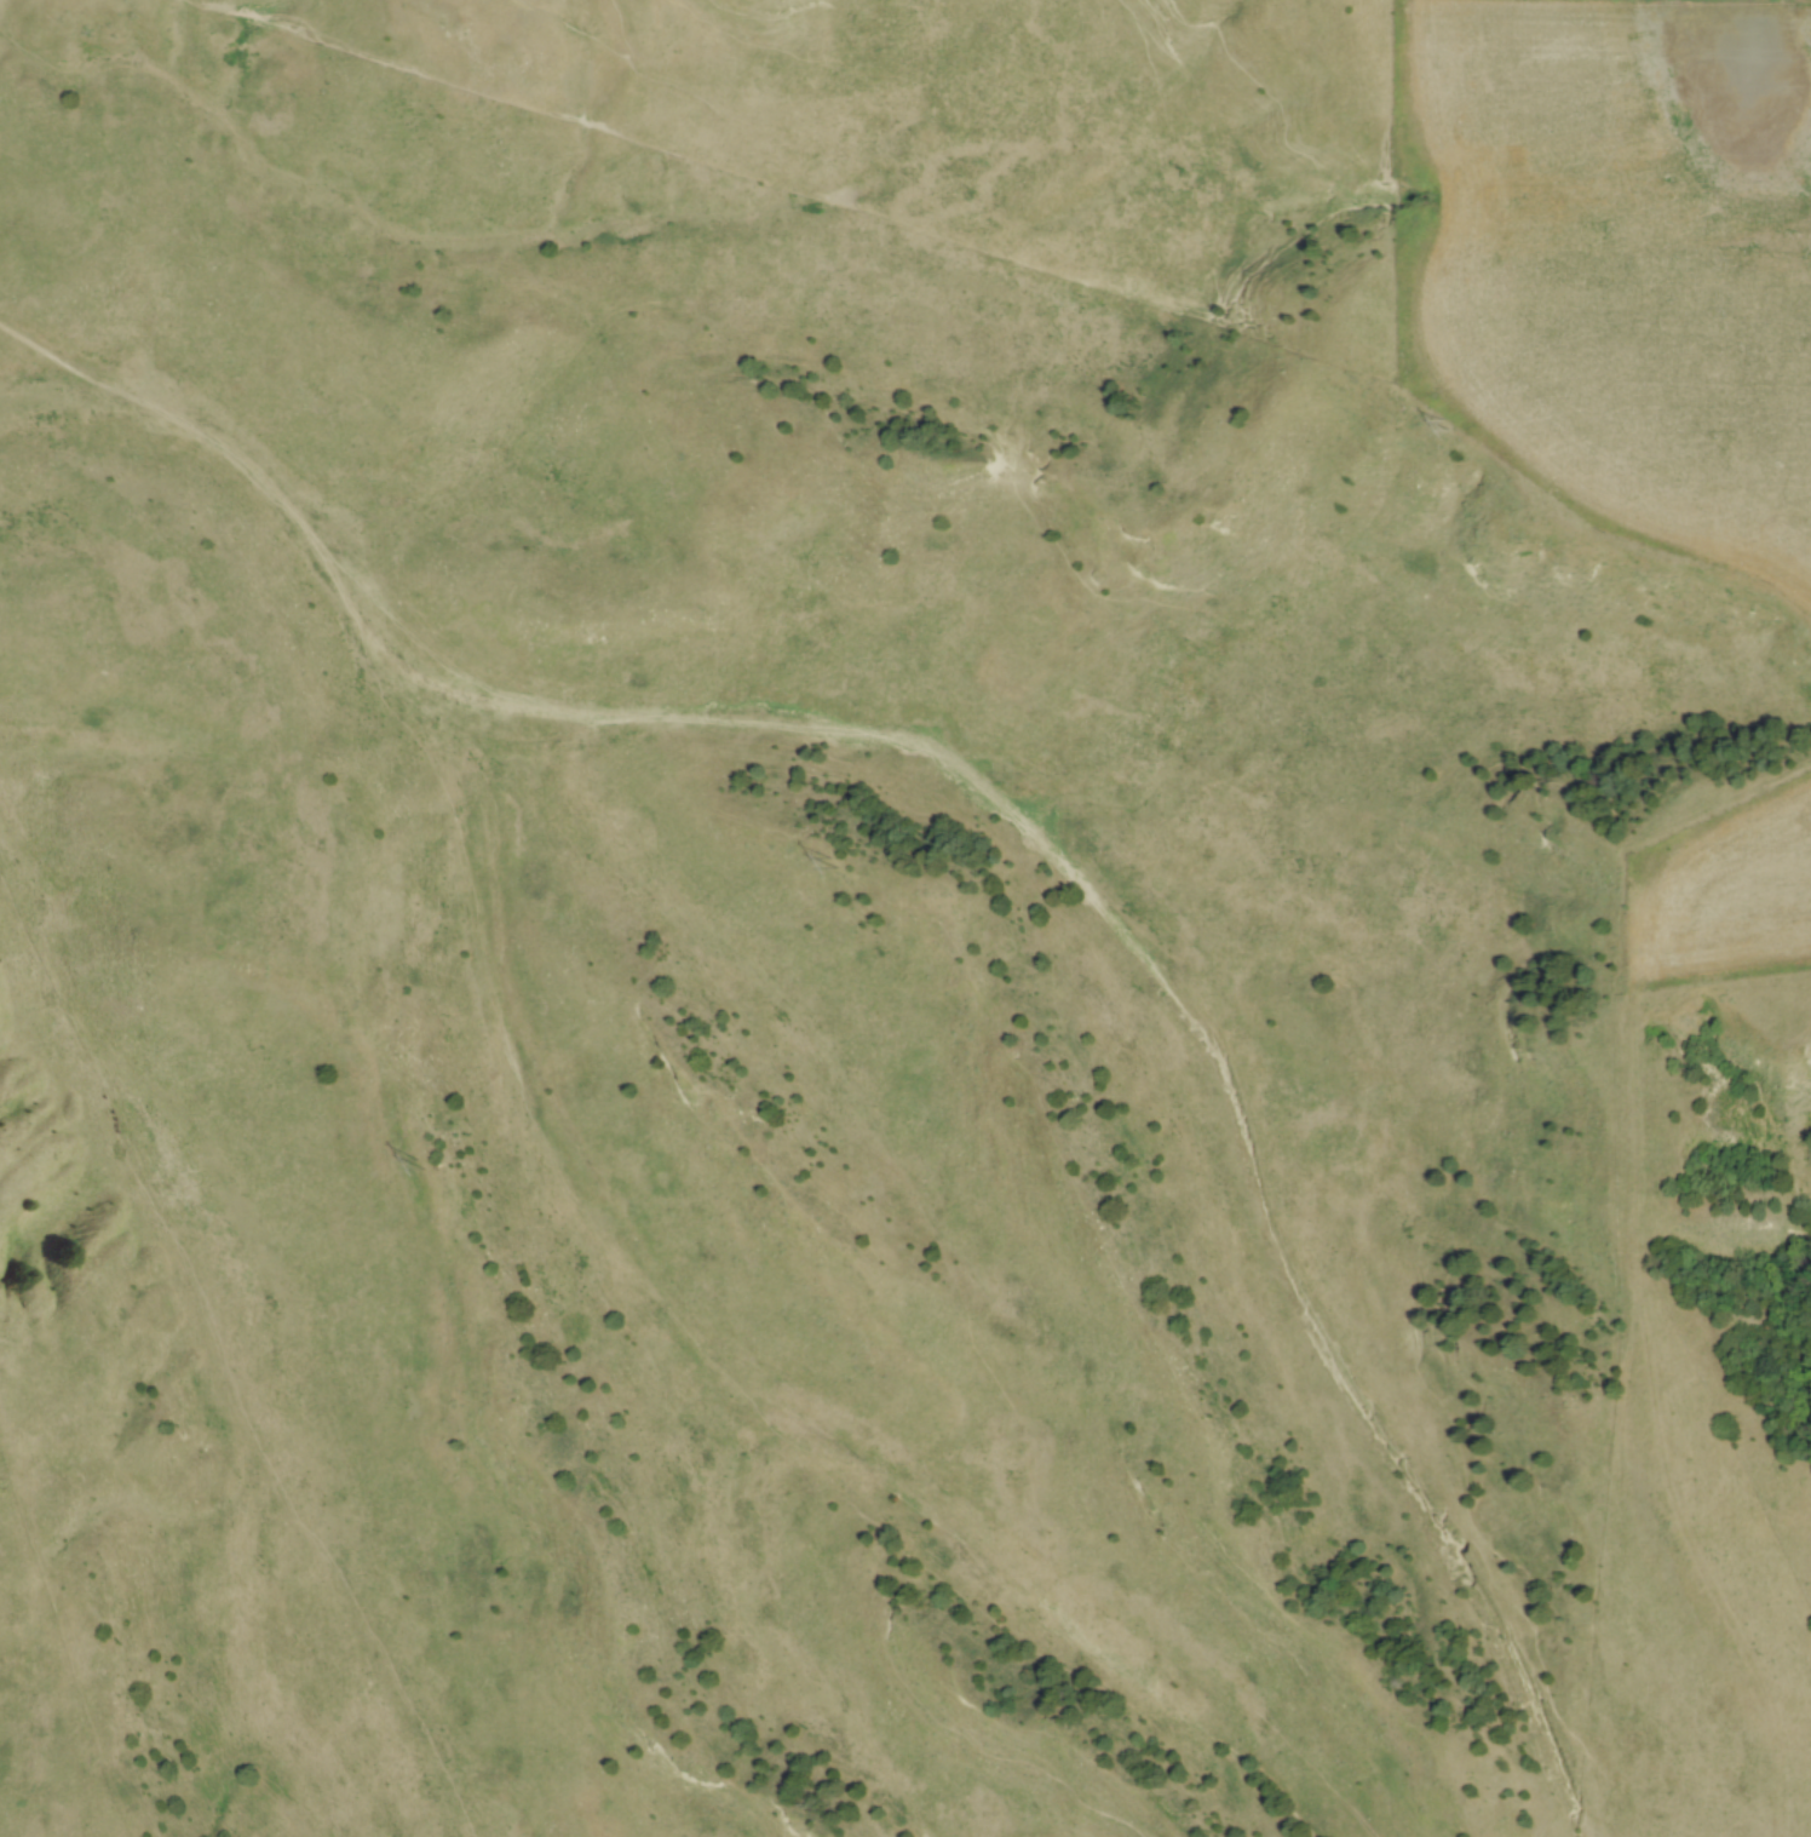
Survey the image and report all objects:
power tower: (1449, 427)
power tower: (845, 865)
power tower: (427, 1169)

